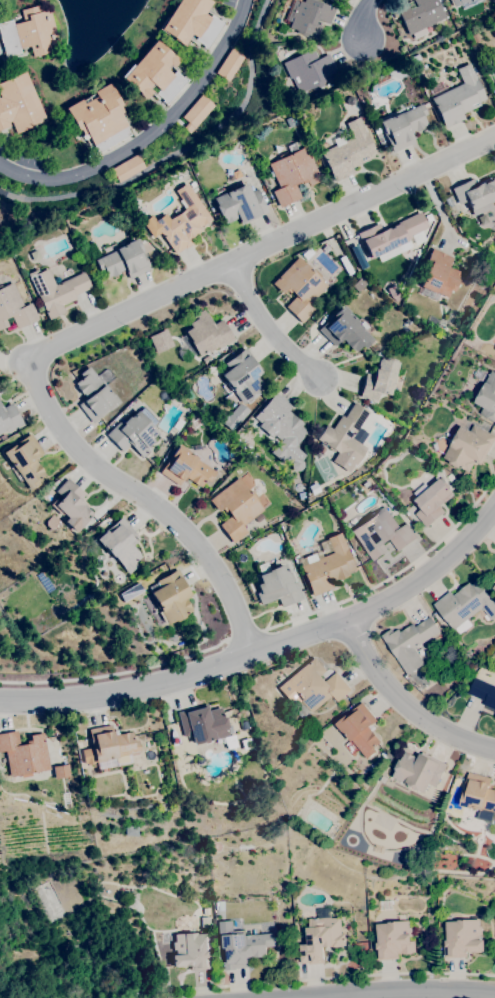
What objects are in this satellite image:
building: (461, 2)
building: (424, 13)
building: (309, 15)
road: (374, 19)
building: (191, 22)
building: (29, 32)
building: (493, 61)
building: (230, 63)
building: (309, 70)
building: (155, 73)
building: (494, 87)
building: (459, 97)
building: (18, 104)
building: (197, 112)
building: (99, 117)
building: (403, 126)
building: (376, 130)
road: (153, 134)
building: (348, 151)
building: (129, 167)
building: (292, 172)
building: (192, 184)
building: (475, 194)
building: (448, 200)
building: (240, 204)
building: (464, 205)
building: (484, 217)
building: (179, 221)
building: (391, 237)
building: (418, 237)
road: (259, 248)
building: (124, 260)
building: (439, 273)
building: (299, 287)
building: (56, 290)
building: (14, 307)
road: (268, 329)
building: (344, 330)
building: (207, 333)
building: (159, 340)
building: (242, 376)
building: (379, 379)
building: (94, 395)
building: (487, 397)
building: (8, 418)
building: (196, 423)
building: (178, 424)
building: (281, 424)
building: (133, 434)
building: (346, 434)
building: (167, 441)
building: (469, 447)
building: (321, 448)
building: (26, 460)
building: (186, 467)
building: (301, 495)
building: (432, 502)
road: (145, 503)
building: (70, 505)
building: (236, 508)
building: (381, 534)
building: (120, 544)
building: (328, 566)
road: (394, 569)
building: (494, 570)
building: (278, 586)
building: (493, 588)
building: (172, 596)
building: (465, 604)
building: (169, 635)
road: (243, 635)
building: (409, 643)
road: (267, 651)
road: (115, 672)
building: (312, 686)
building: (483, 692)
road: (404, 706)
building: (494, 716)
building: (203, 724)
building: (243, 725)
building: (360, 729)
building: (79, 744)
building: (108, 745)
building: (24, 753)
building: (419, 771)
building: (367, 772)
building: (479, 797)
building: (130, 830)
building: (219, 905)
building: (207, 911)
building: (205, 922)
building: (462, 938)
building: (321, 939)
building: (393, 940)
building: (241, 946)
building: (191, 951)
road: (309, 977)
road: (412, 992)

